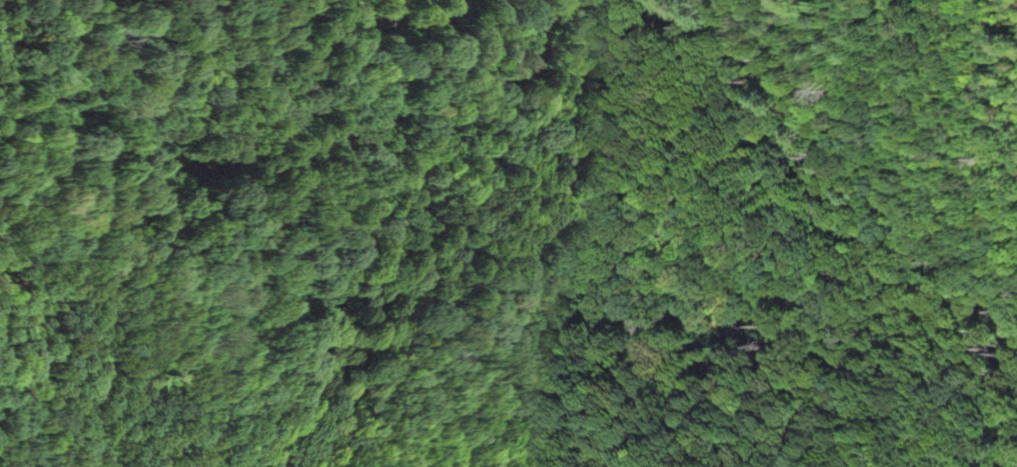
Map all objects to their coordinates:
road: (939, 224)

